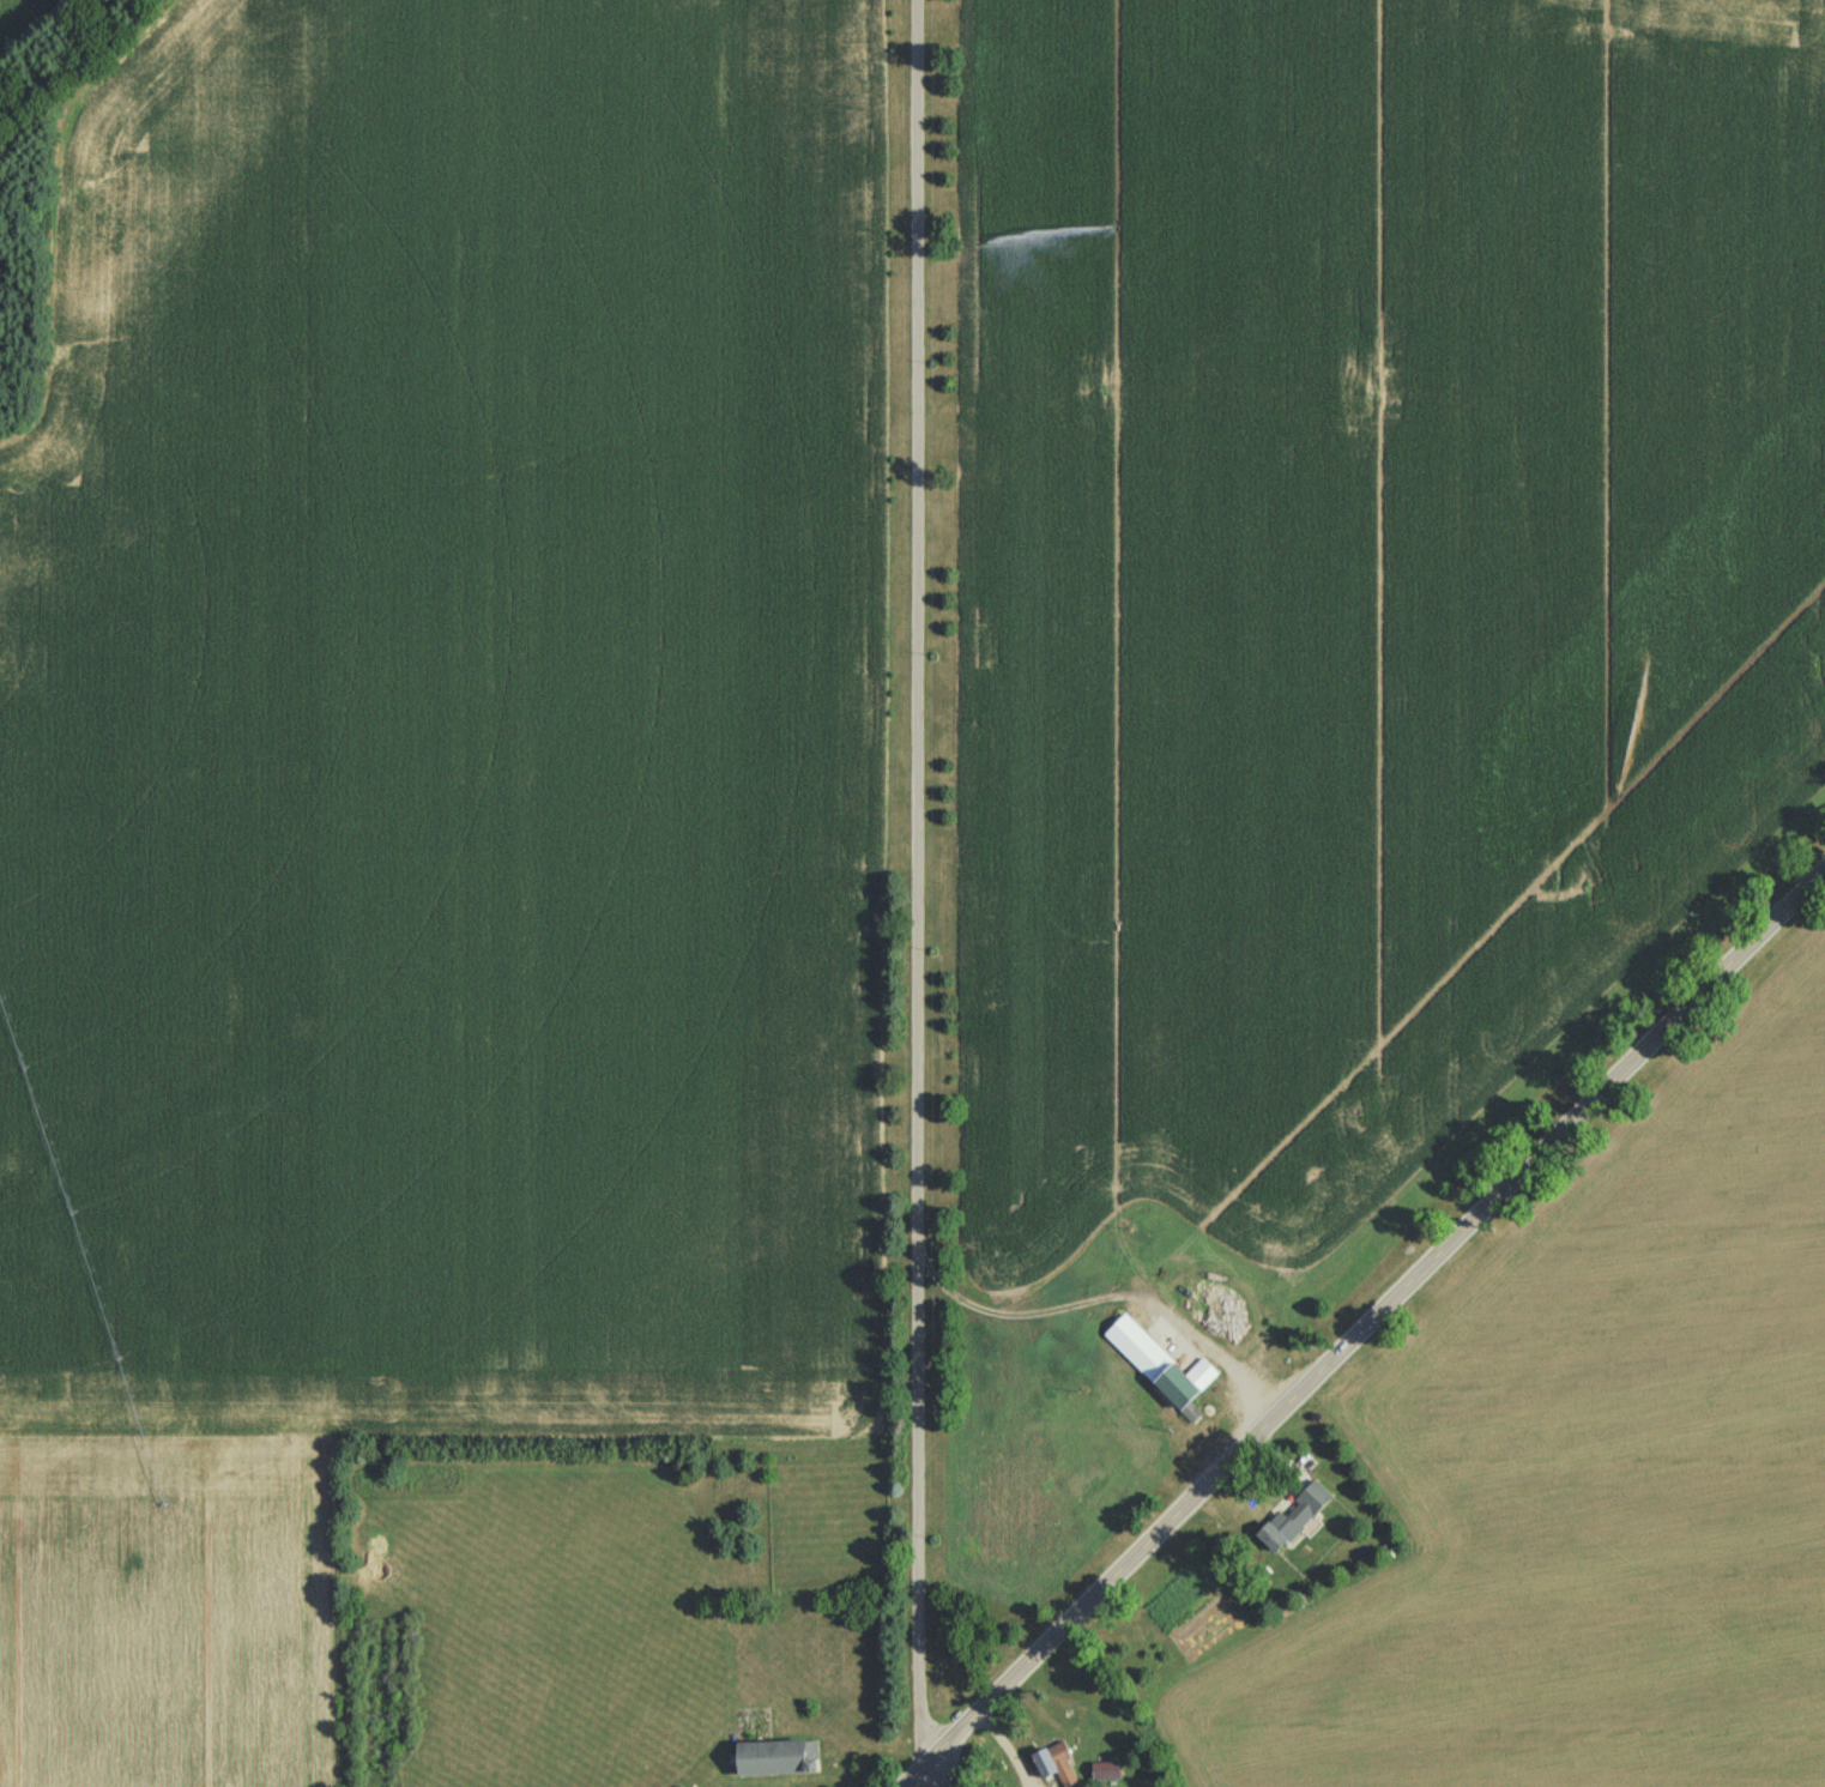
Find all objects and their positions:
road: (1358, 1310)
building: (1162, 1369)
building: (1295, 1519)
building: (778, 1762)
road: (949, 1763)
building: (1056, 1768)
building: (1106, 1774)

